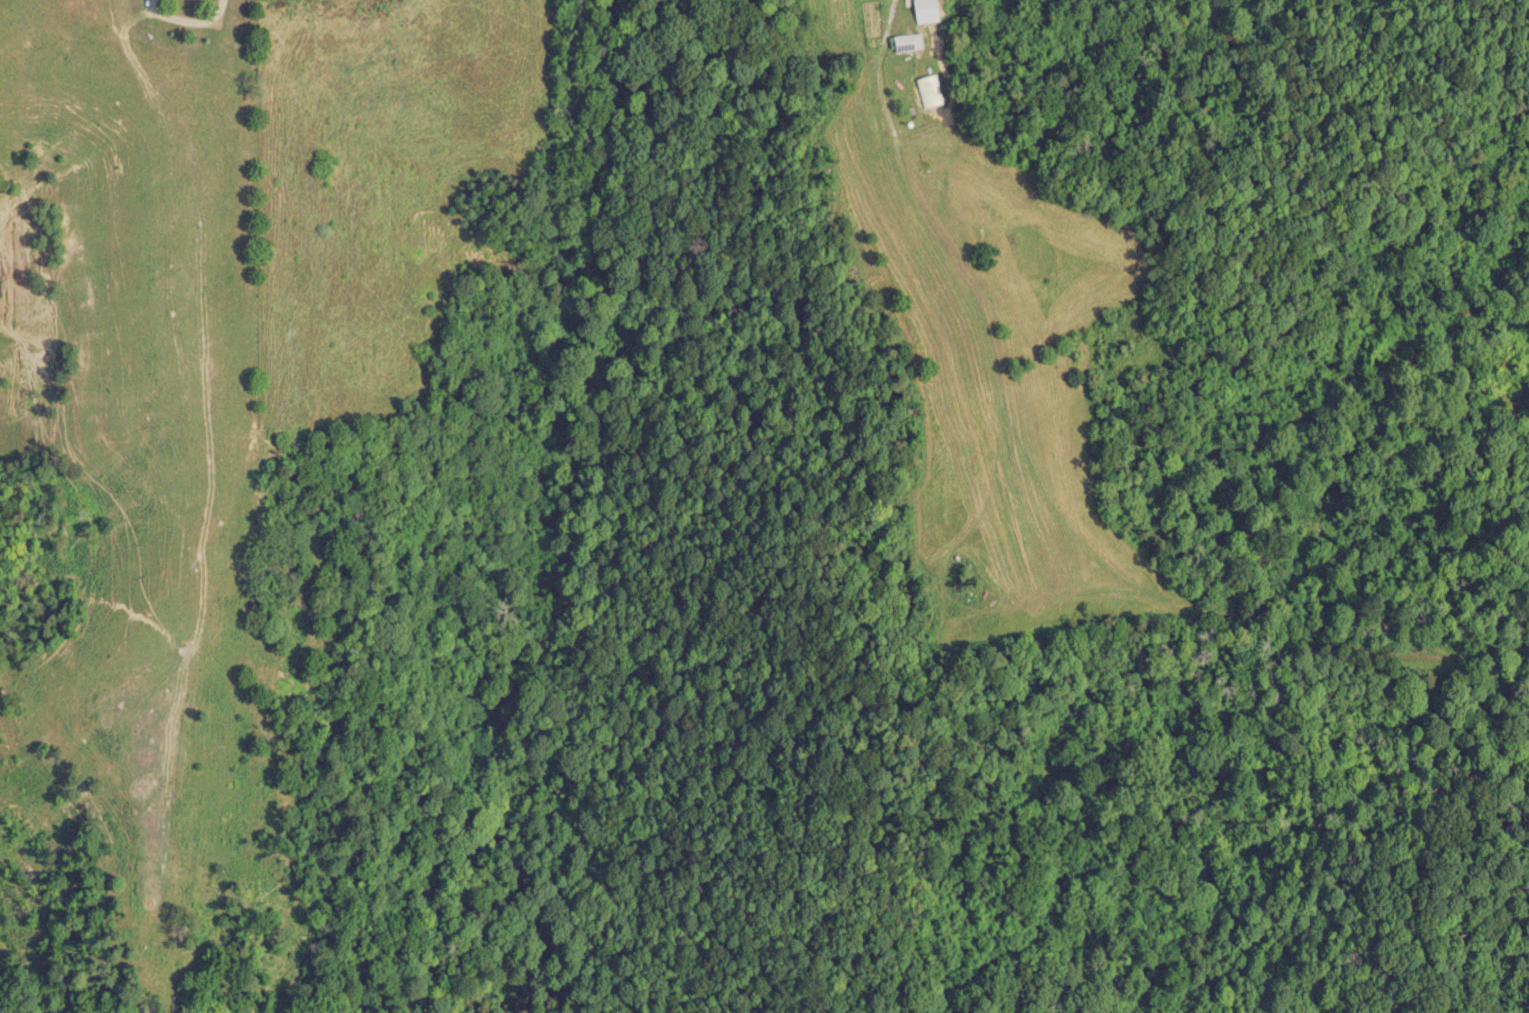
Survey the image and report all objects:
building: (901, 42)

